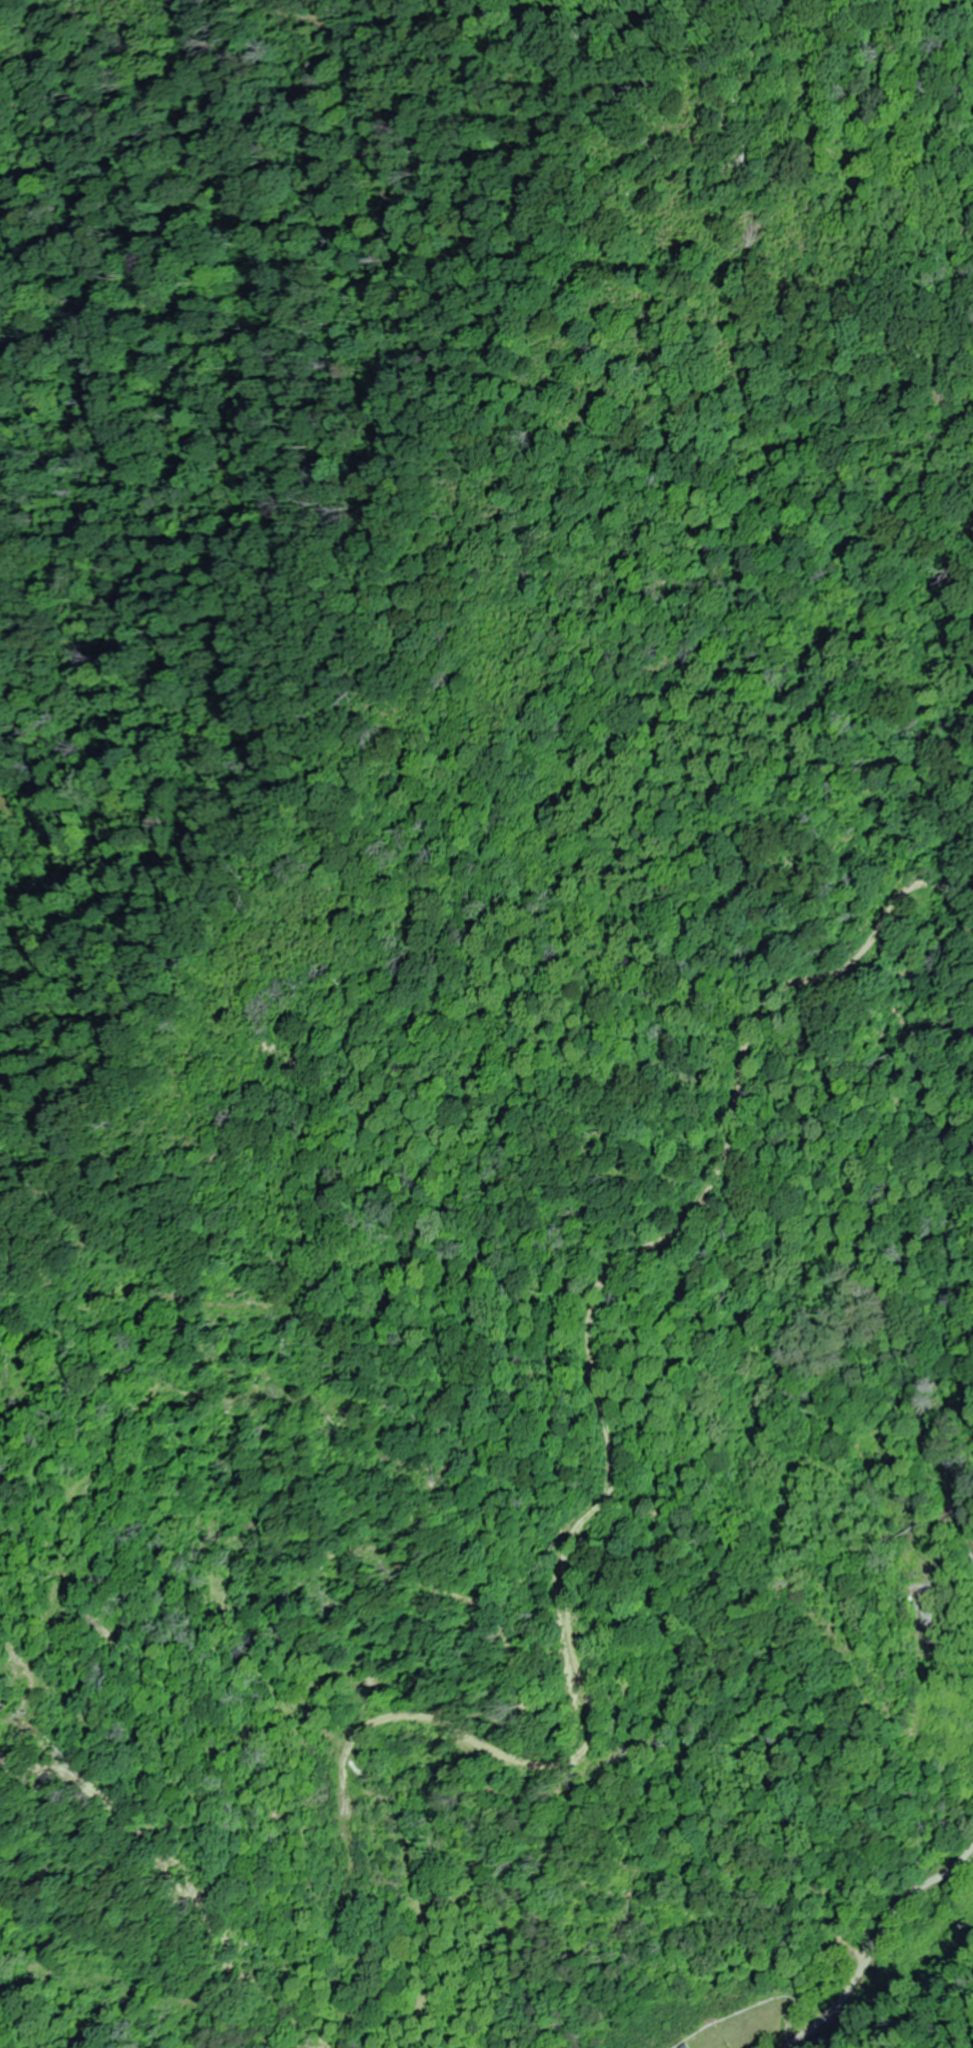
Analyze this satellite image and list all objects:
building: (902, 1575)
road: (874, 1983)

